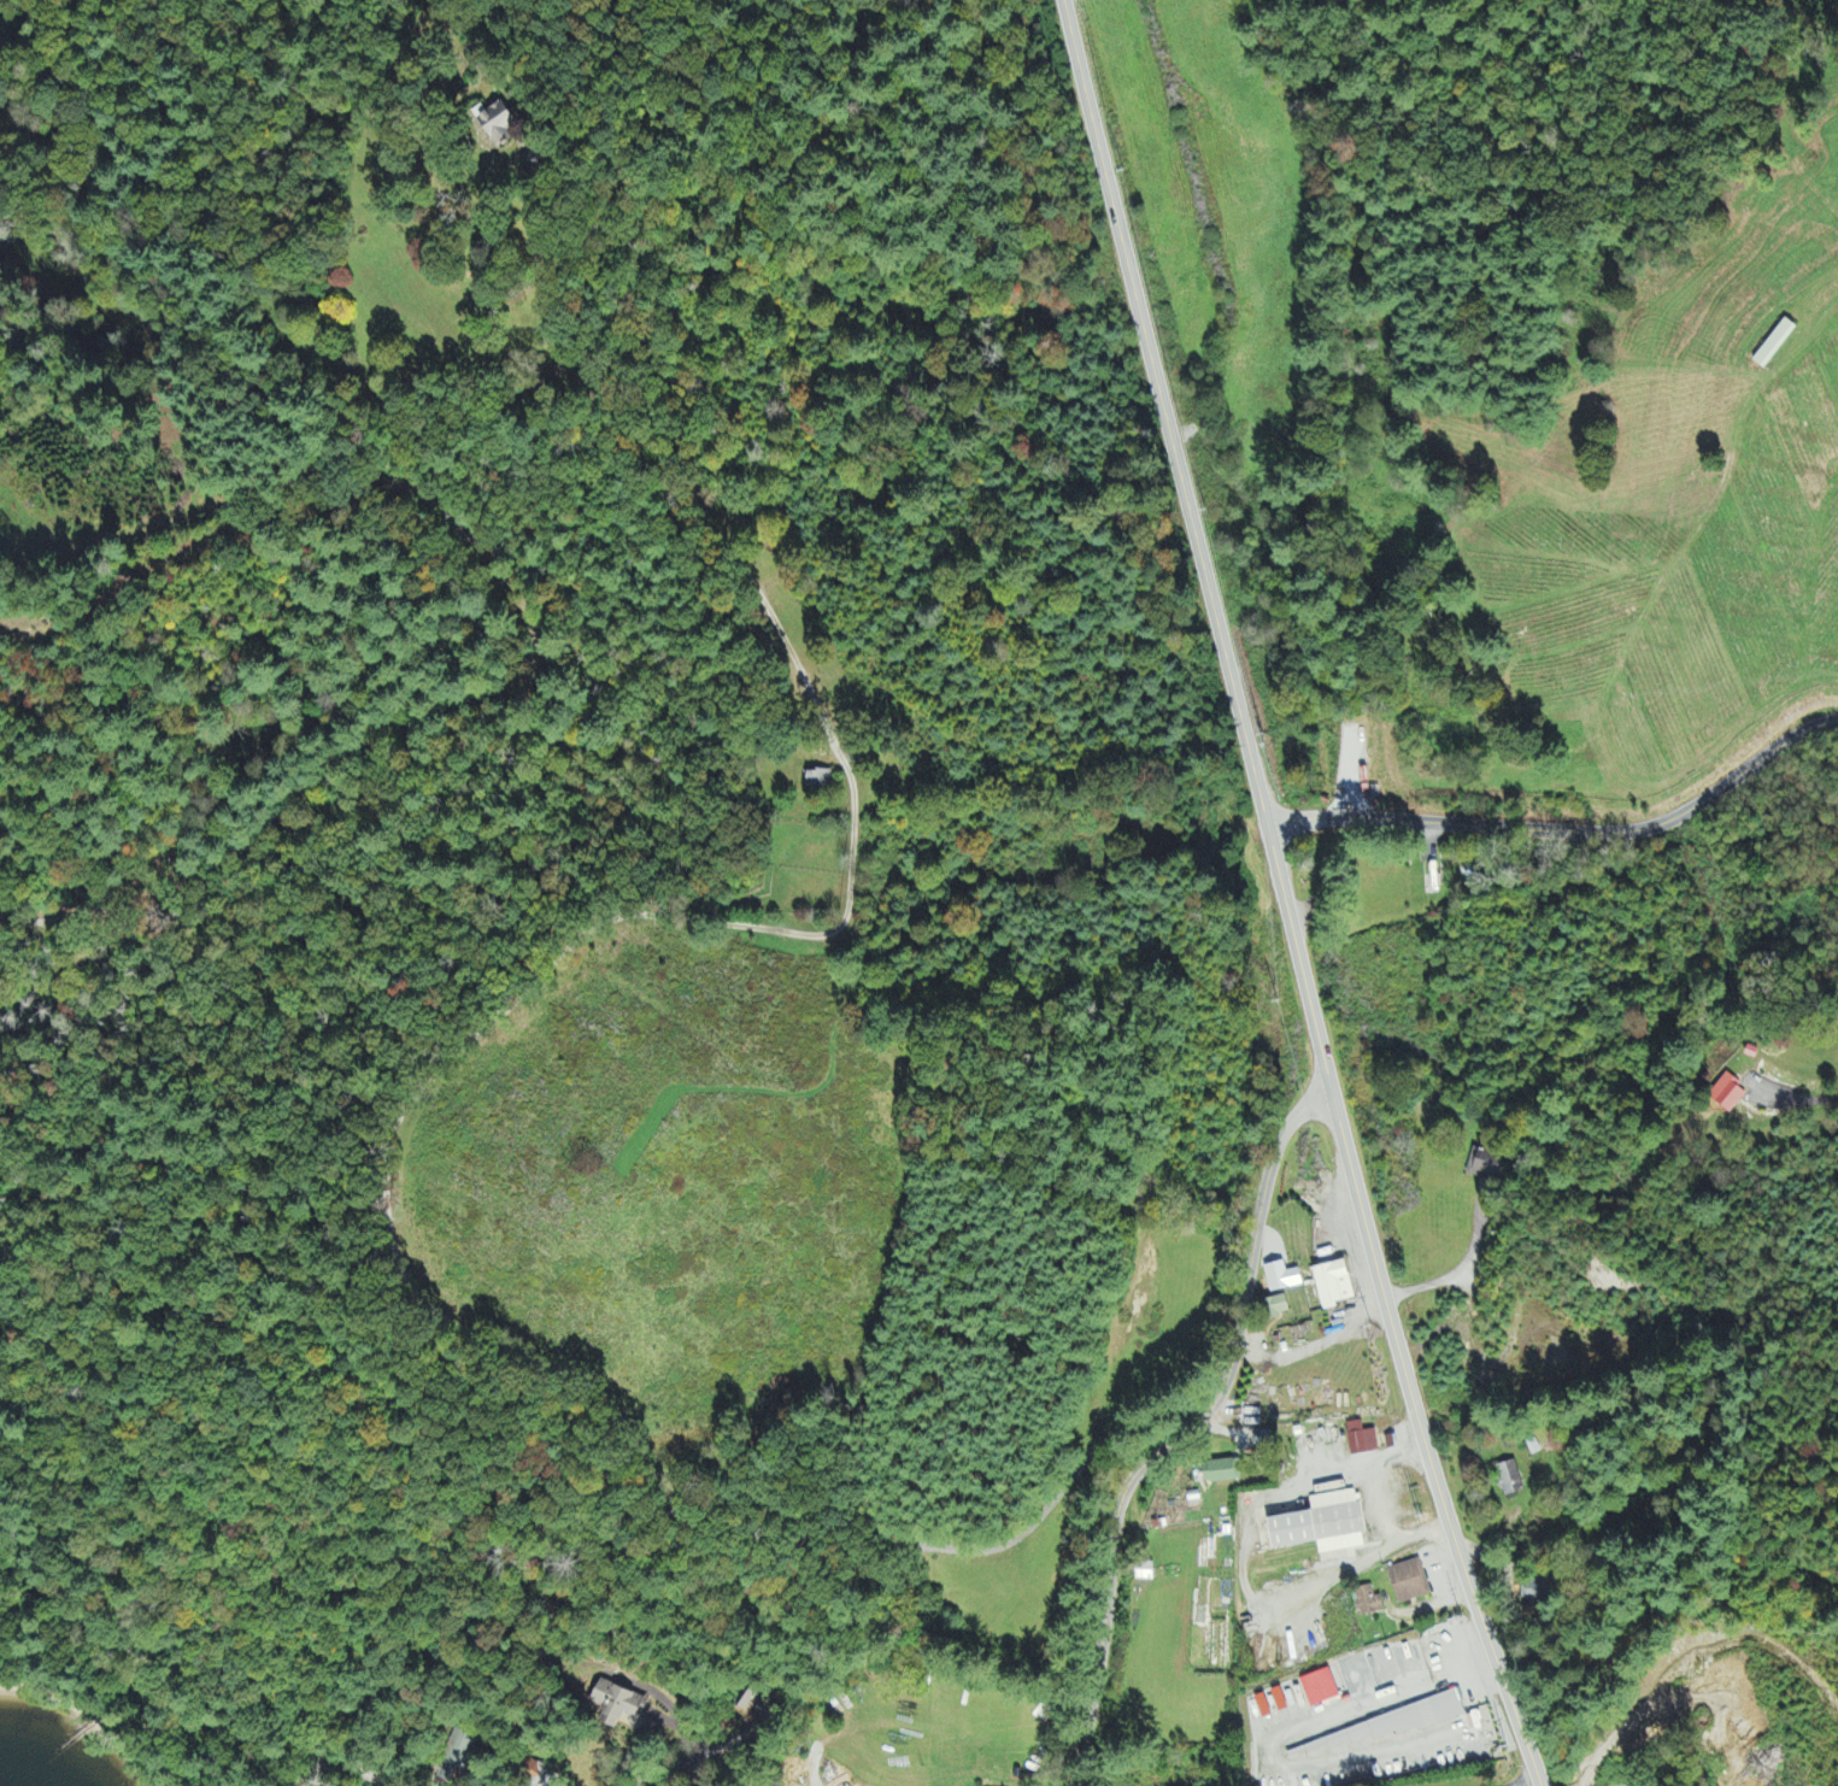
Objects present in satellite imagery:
road: (1607, 1)
road: (1597, 4)
road: (1674, 65)
building: (497, 123)
road: (1616, 127)
road: (1138, 315)
building: (1779, 345)
building: (818, 781)
road: (1567, 833)
road: (1274, 856)
building: (1728, 1095)
building: (1485, 1167)
road: (1376, 1271)
building: (1282, 1280)
building: (1334, 1287)
building: (1279, 1308)
road: (1188, 1433)
building: (1362, 1440)
building: (1222, 1471)
building: (1510, 1479)
building: (1325, 1527)
building: (1410, 1582)
building: (1535, 1591)
building: (1367, 1603)
road: (1480, 1621)
building: (1320, 1690)
road: (180, 1699)
building: (621, 1708)
building: (1393, 1725)
building: (456, 1758)
road: (664, 1767)
building: (540, 1776)
road: (1522, 1780)

